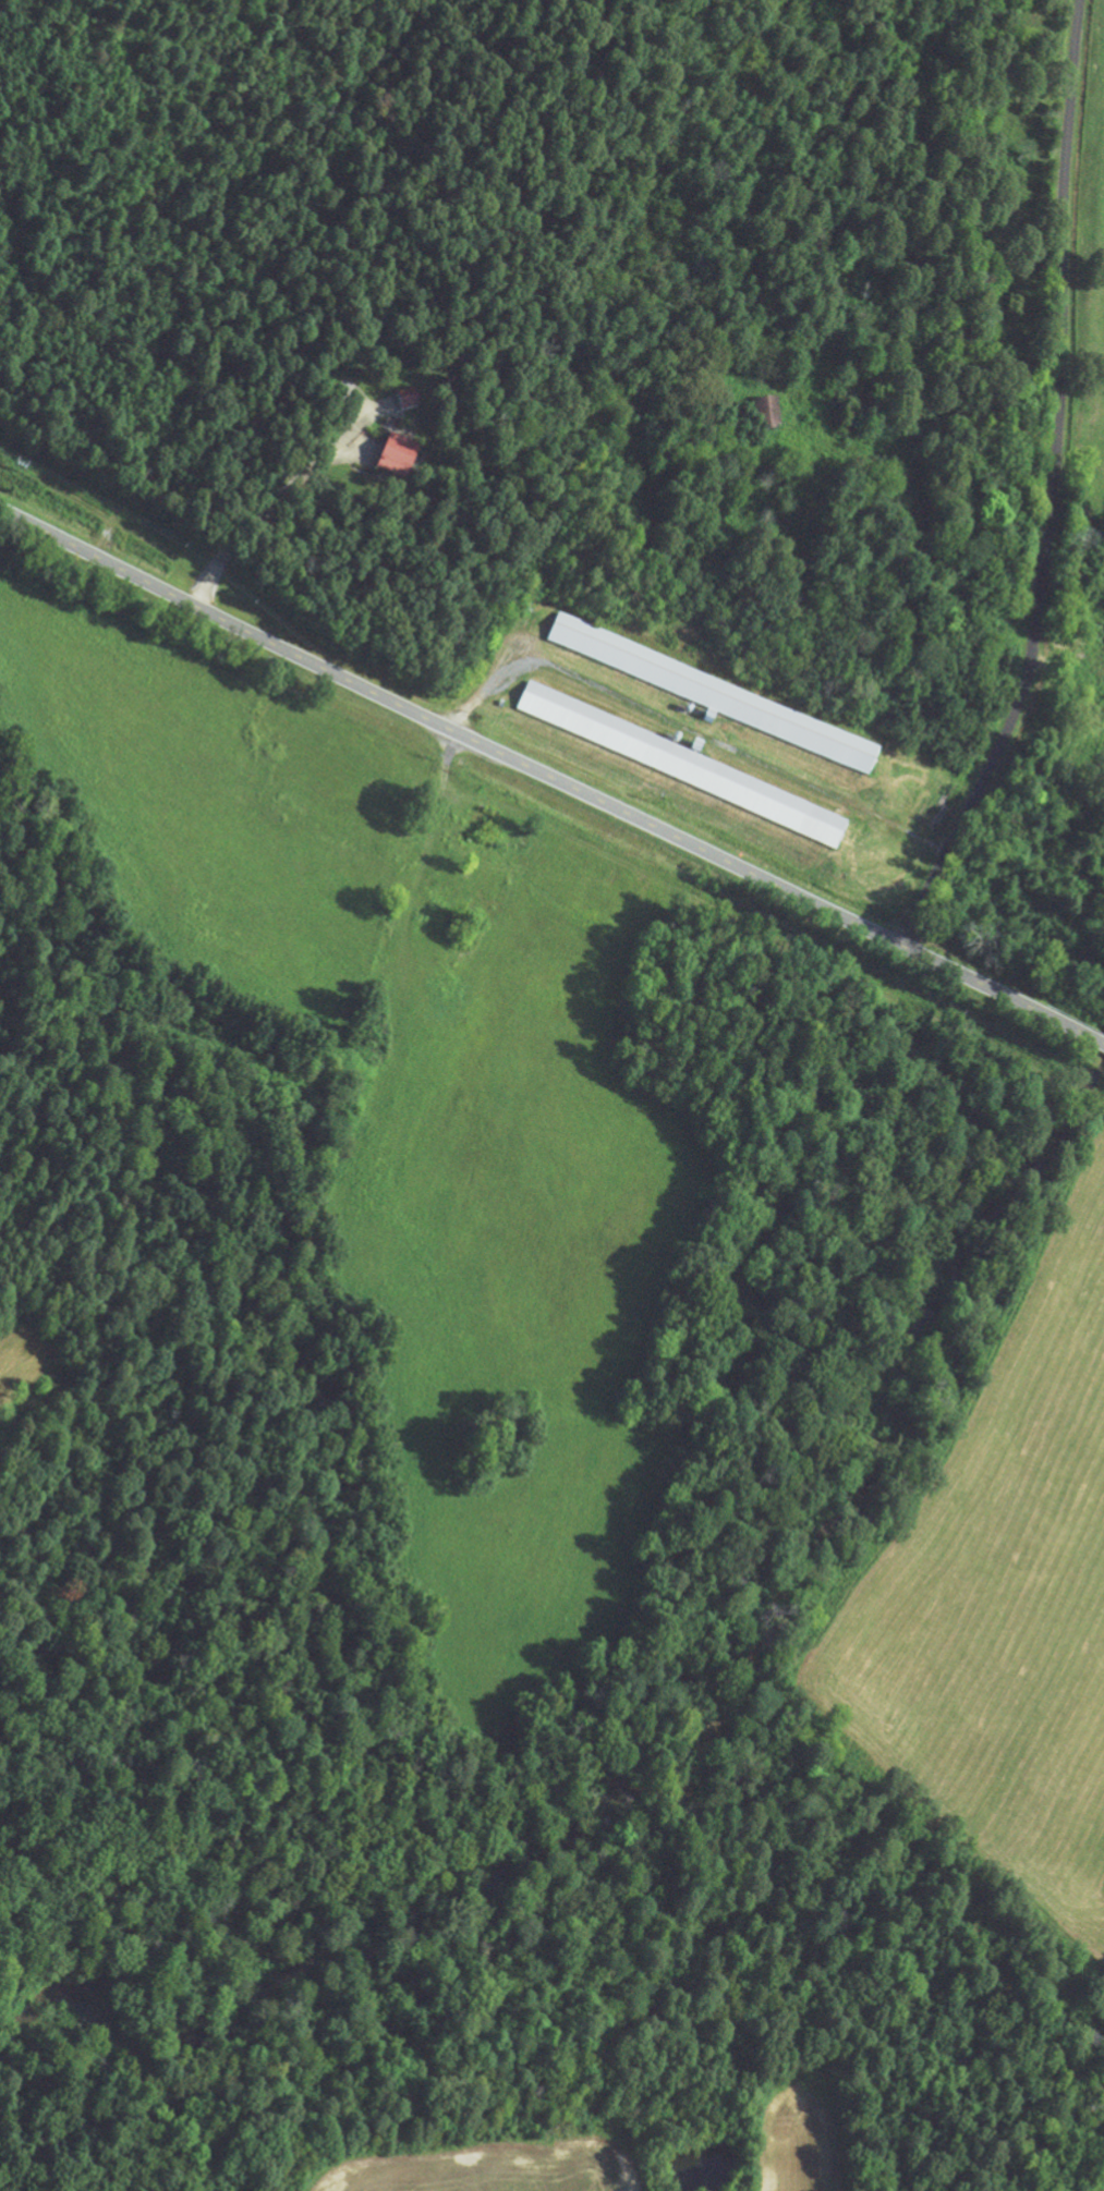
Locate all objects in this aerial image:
building: (442, 391)
building: (404, 403)
building: (765, 419)
building: (396, 461)
road: (1046, 487)
building: (681, 768)
road: (550, 779)
building: (484, 823)

